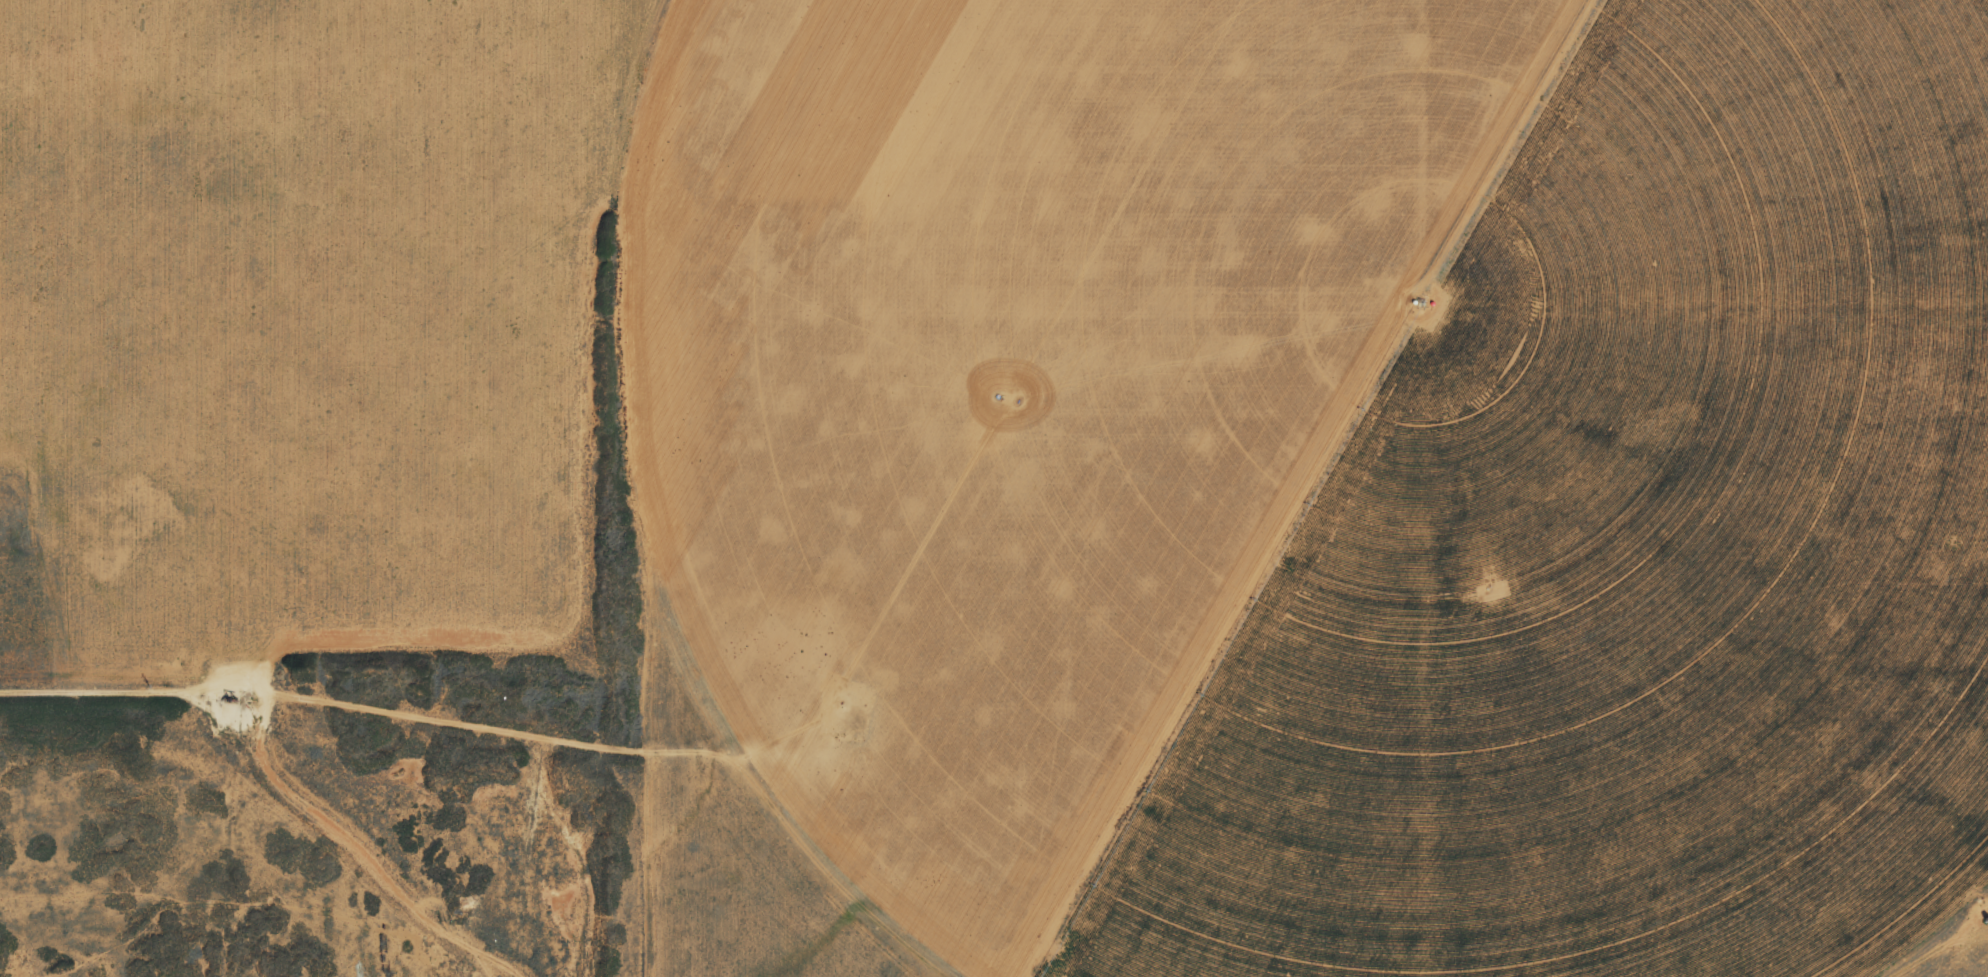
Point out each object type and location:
road: (251, 662)

